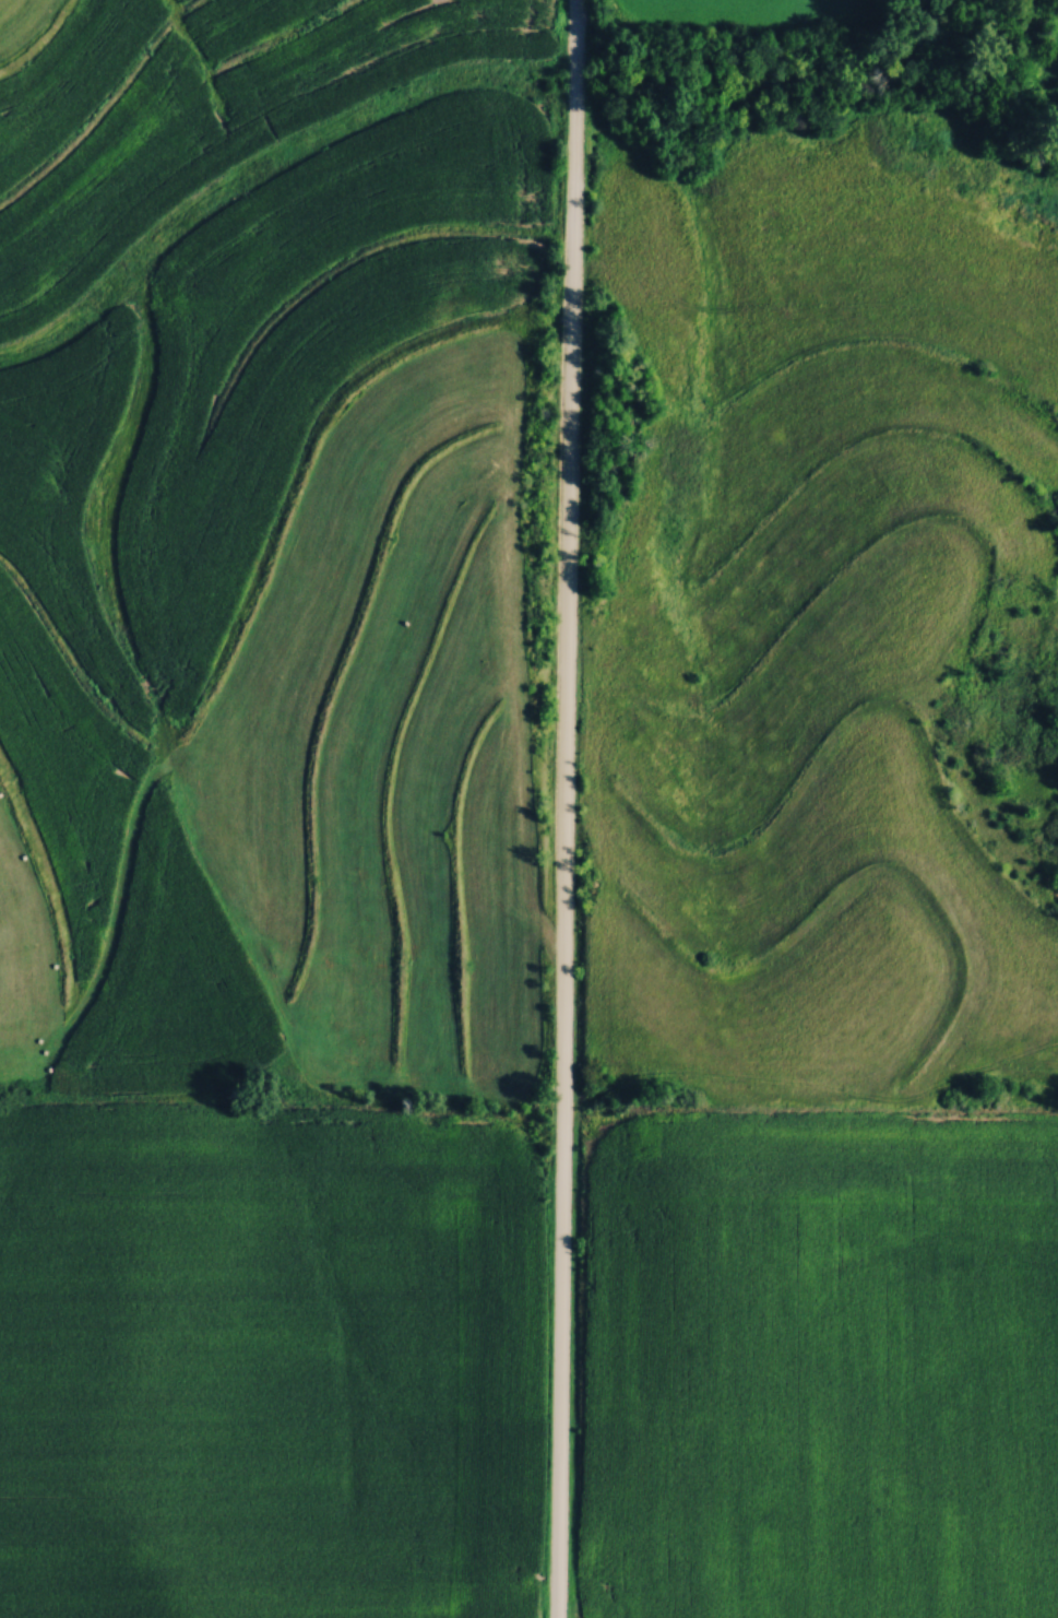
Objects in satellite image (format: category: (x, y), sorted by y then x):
road: (569, 808)

